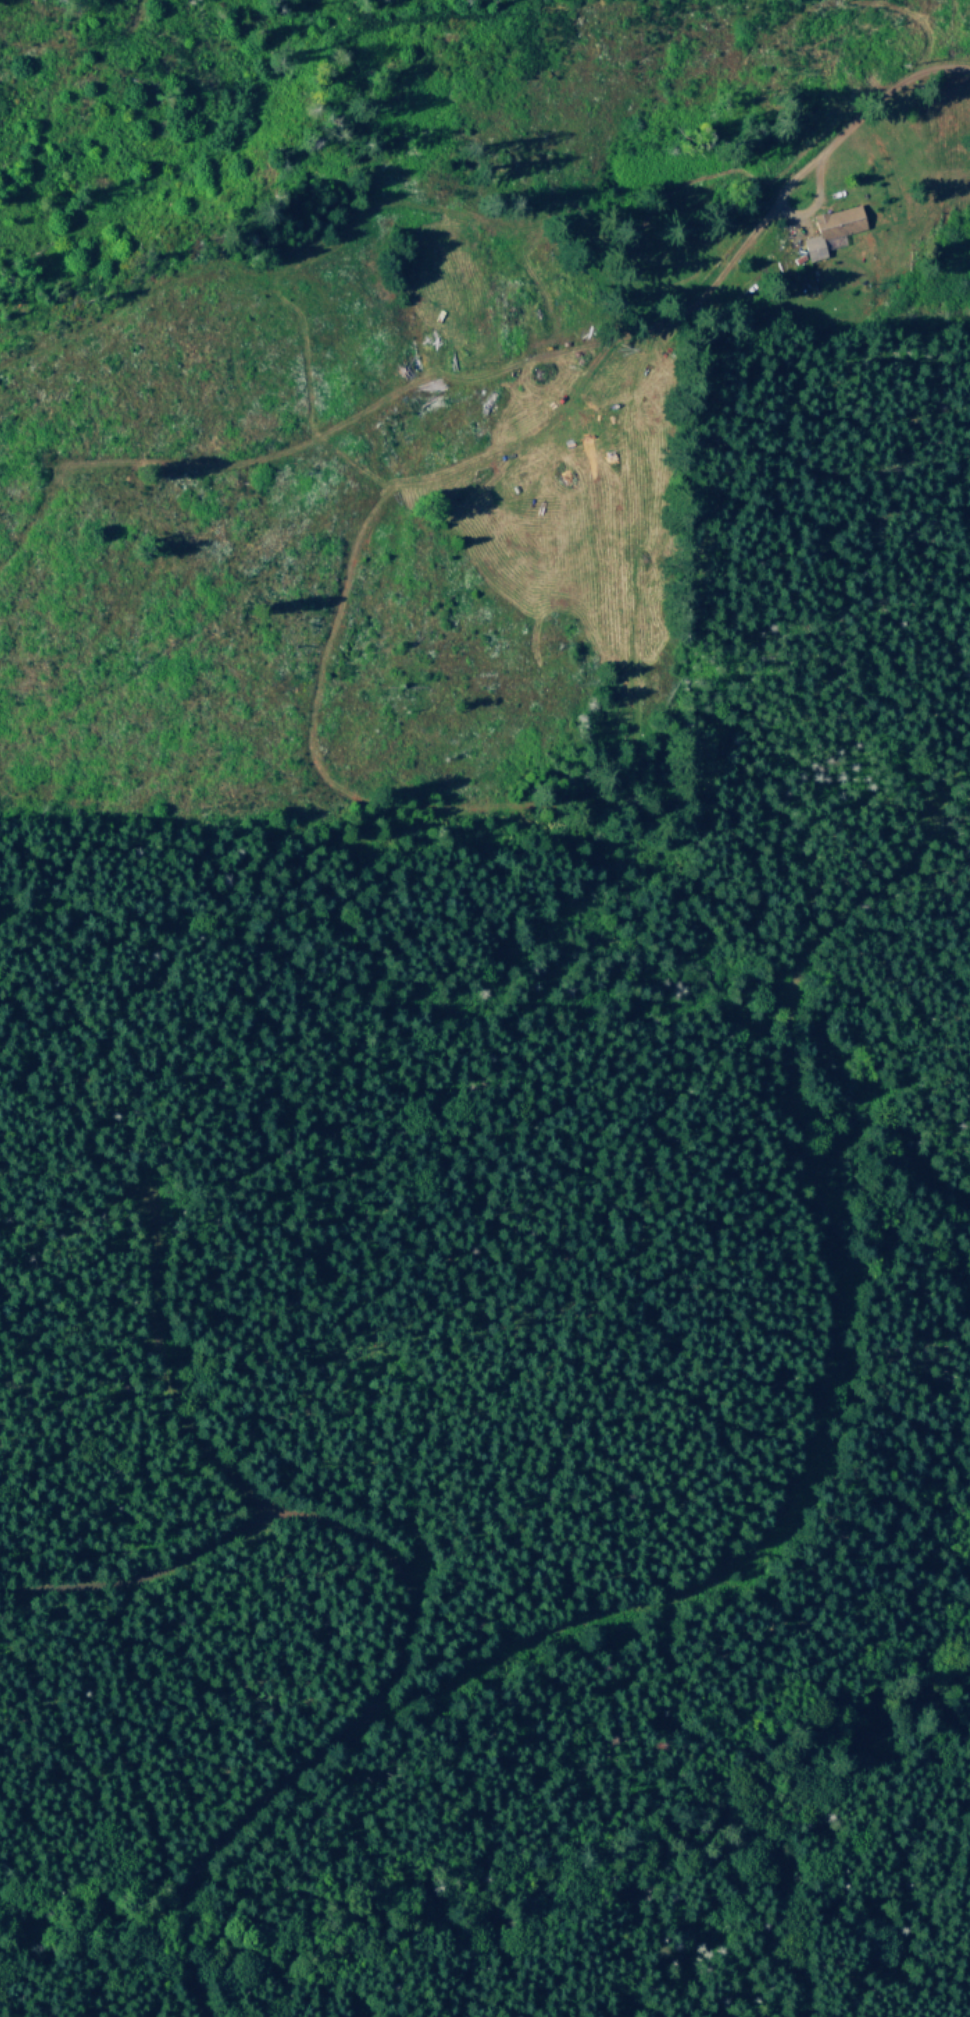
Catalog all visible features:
building: (828, 230)

